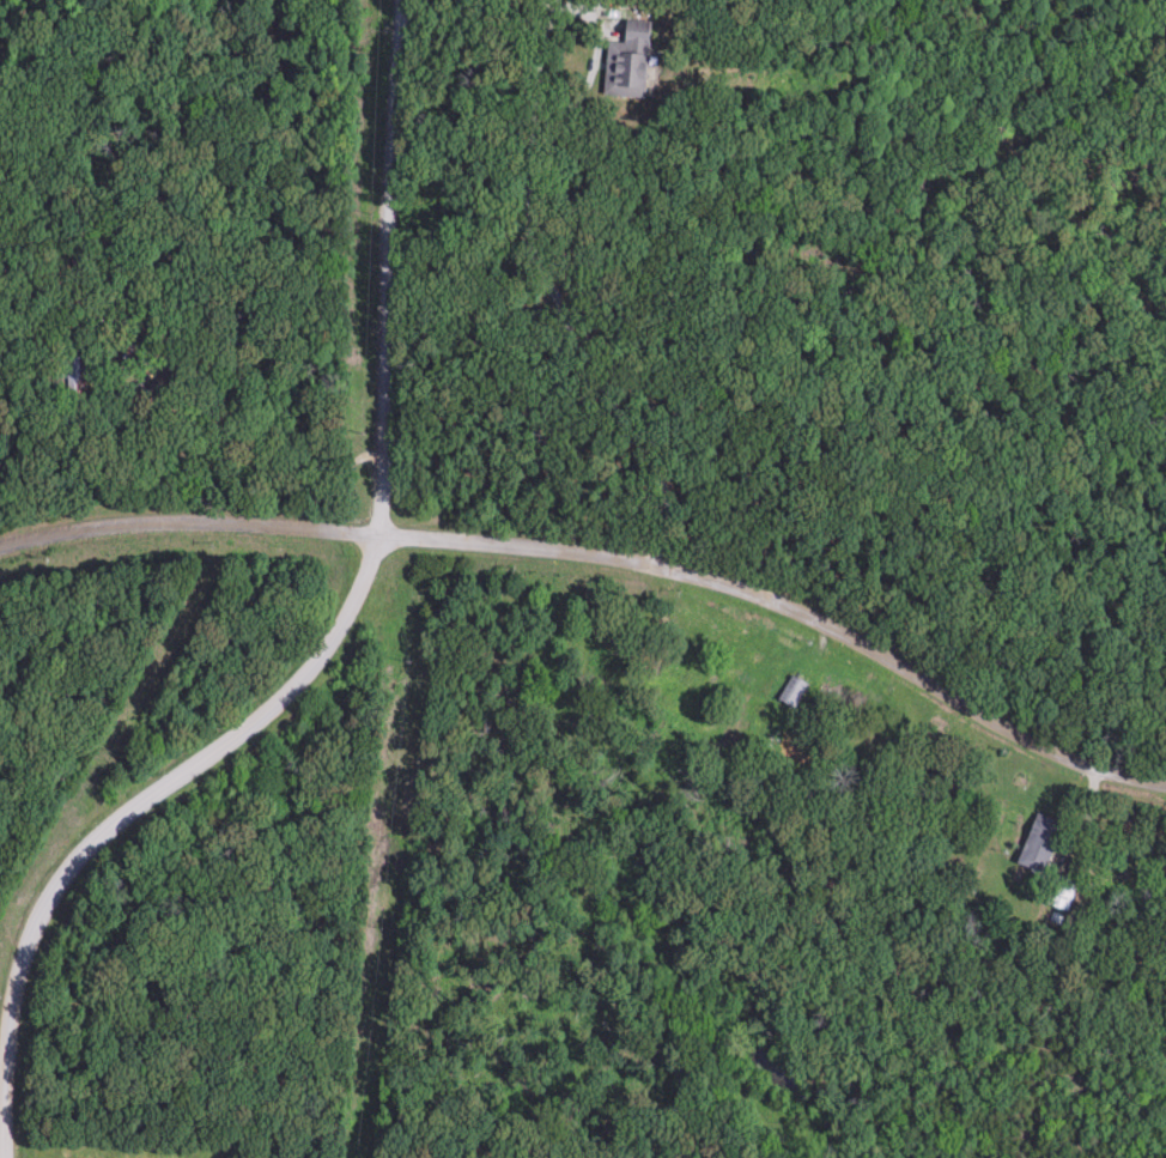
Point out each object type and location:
road: (601, 36)
building: (631, 63)
road: (370, 273)
road: (73, 471)
road: (607, 565)
building: (796, 691)
road: (125, 818)
building: (1046, 836)
road: (1086, 848)

